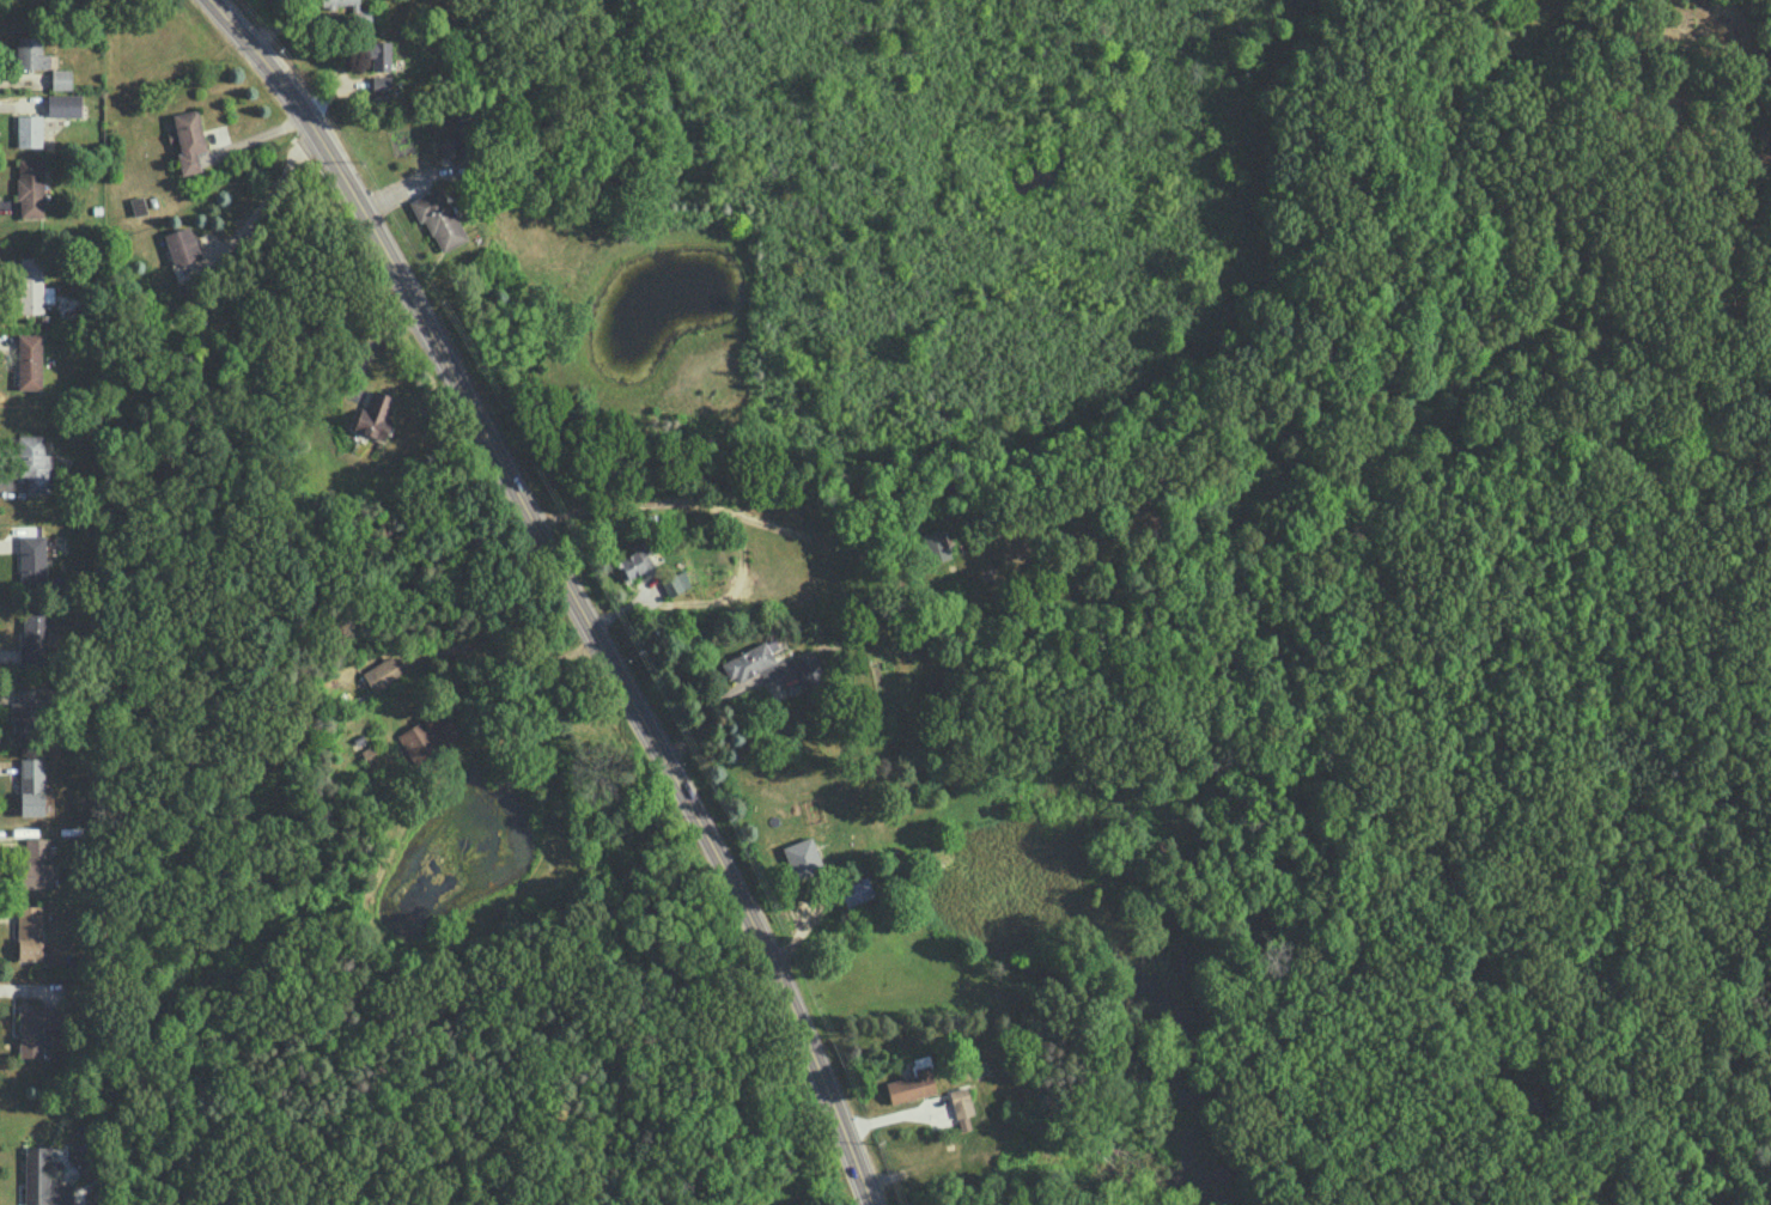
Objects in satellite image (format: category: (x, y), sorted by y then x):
building: (351, 10)
building: (30, 53)
building: (379, 54)
building: (61, 78)
building: (381, 83)
building: (63, 104)
building: (29, 129)
building: (188, 140)
building: (445, 146)
building: (30, 187)
road: (266, 202)
building: (438, 217)
building: (181, 244)
building: (32, 285)
building: (29, 360)
building: (375, 415)
building: (34, 463)
road: (730, 525)
building: (936, 544)
building: (32, 560)
building: (634, 560)
building: (675, 582)
road: (571, 585)
building: (34, 637)
road: (473, 651)
building: (747, 662)
building: (809, 671)
building: (382, 673)
building: (30, 711)
building: (424, 738)
building: (31, 785)
building: (802, 857)
building: (36, 863)
building: (856, 890)
building: (29, 932)
building: (36, 1027)
building: (911, 1085)
building: (961, 1108)
building: (44, 1177)

